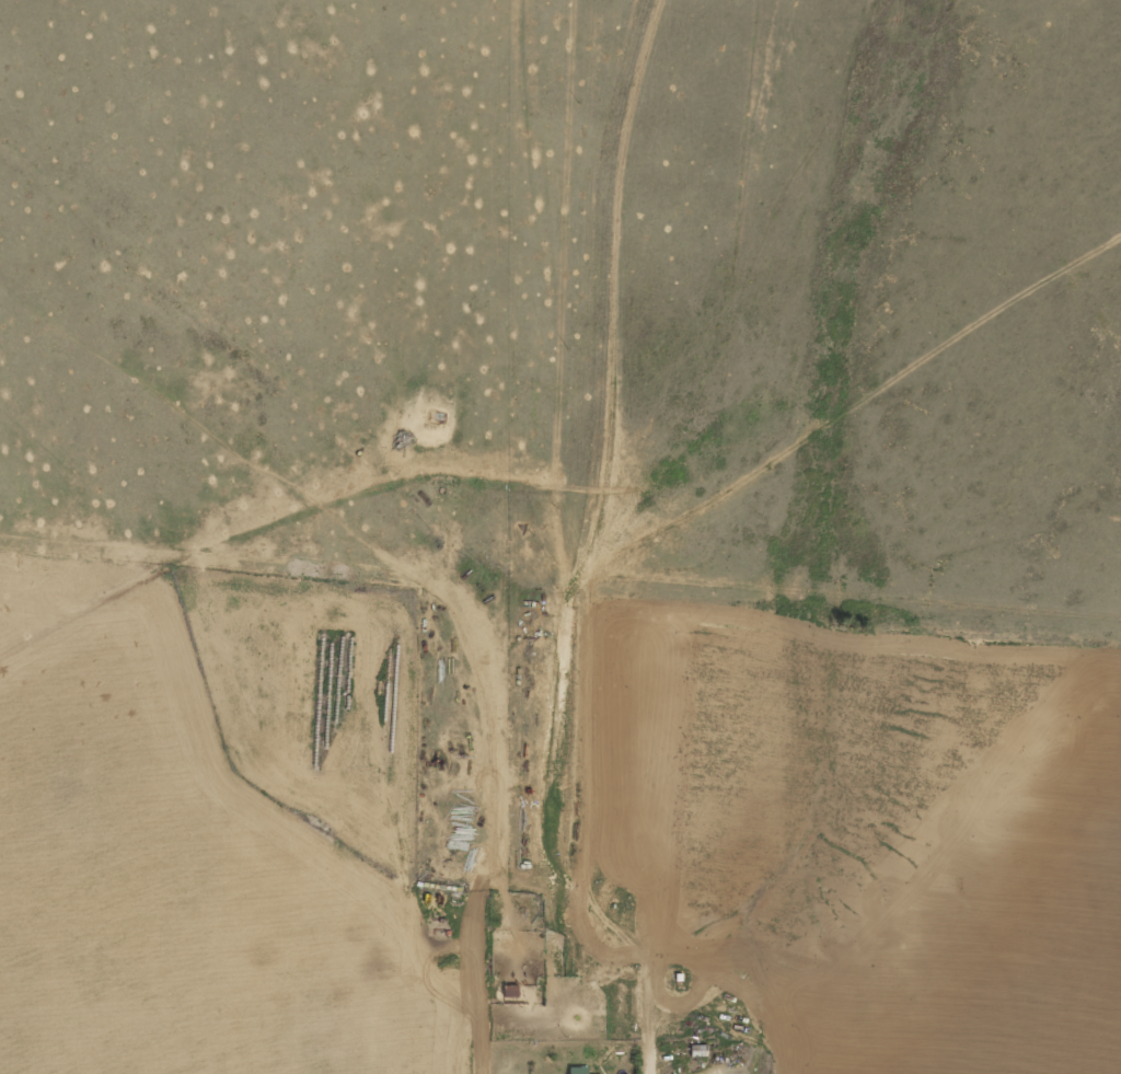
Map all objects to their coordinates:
building: (579, 1070)

